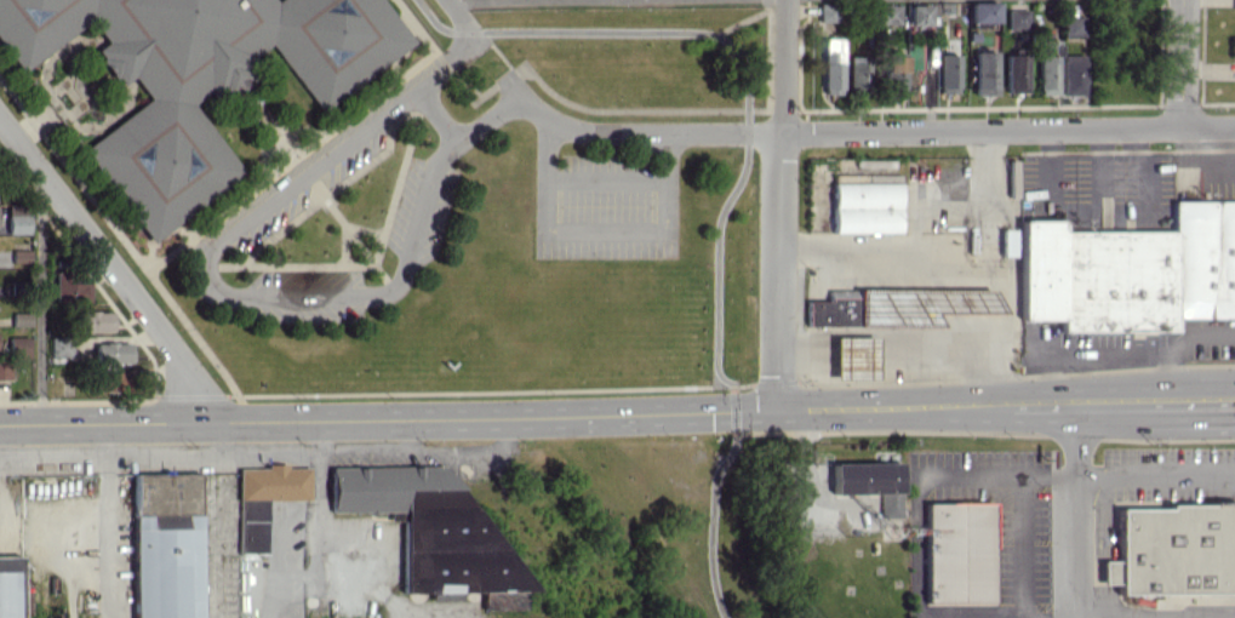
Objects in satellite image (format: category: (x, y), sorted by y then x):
road: (490, 0)
building: (1233, 4)
building: (827, 11)
building: (982, 11)
building: (890, 13)
building: (916, 13)
road: (462, 19)
building: (1017, 19)
building: (1073, 25)
building: (1231, 45)
road: (1180, 63)
building: (830, 65)
building: (1046, 67)
building: (947, 73)
building: (984, 73)
building: (1016, 73)
building: (856, 74)
building: (1071, 74)
building: (892, 75)
building: (196, 78)
road: (436, 115)
road: (858, 131)
road: (1197, 155)
road: (742, 174)
road: (606, 178)
road: (987, 201)
road: (777, 204)
building: (864, 207)
road: (928, 207)
building: (15, 218)
road: (596, 230)
building: (19, 254)
road: (110, 264)
road: (954, 270)
building: (1130, 271)
building: (68, 288)
road: (230, 296)
road: (39, 297)
building: (894, 307)
building: (19, 317)
building: (93, 321)
road: (1178, 343)
building: (18, 345)
building: (59, 347)
building: (113, 351)
building: (853, 357)
building: (4, 368)
building: (113, 380)
road: (1193, 400)
road: (1082, 402)
road: (894, 407)
road: (388, 417)
road: (806, 471)
road: (1004, 475)
building: (869, 482)
building: (265, 499)
road: (1079, 510)
road: (109, 520)
building: (434, 531)
road: (316, 537)
building: (182, 547)
road: (1023, 547)
building: (1171, 550)
building: (957, 551)
building: (10, 586)
road: (406, 617)
road: (412, 617)

